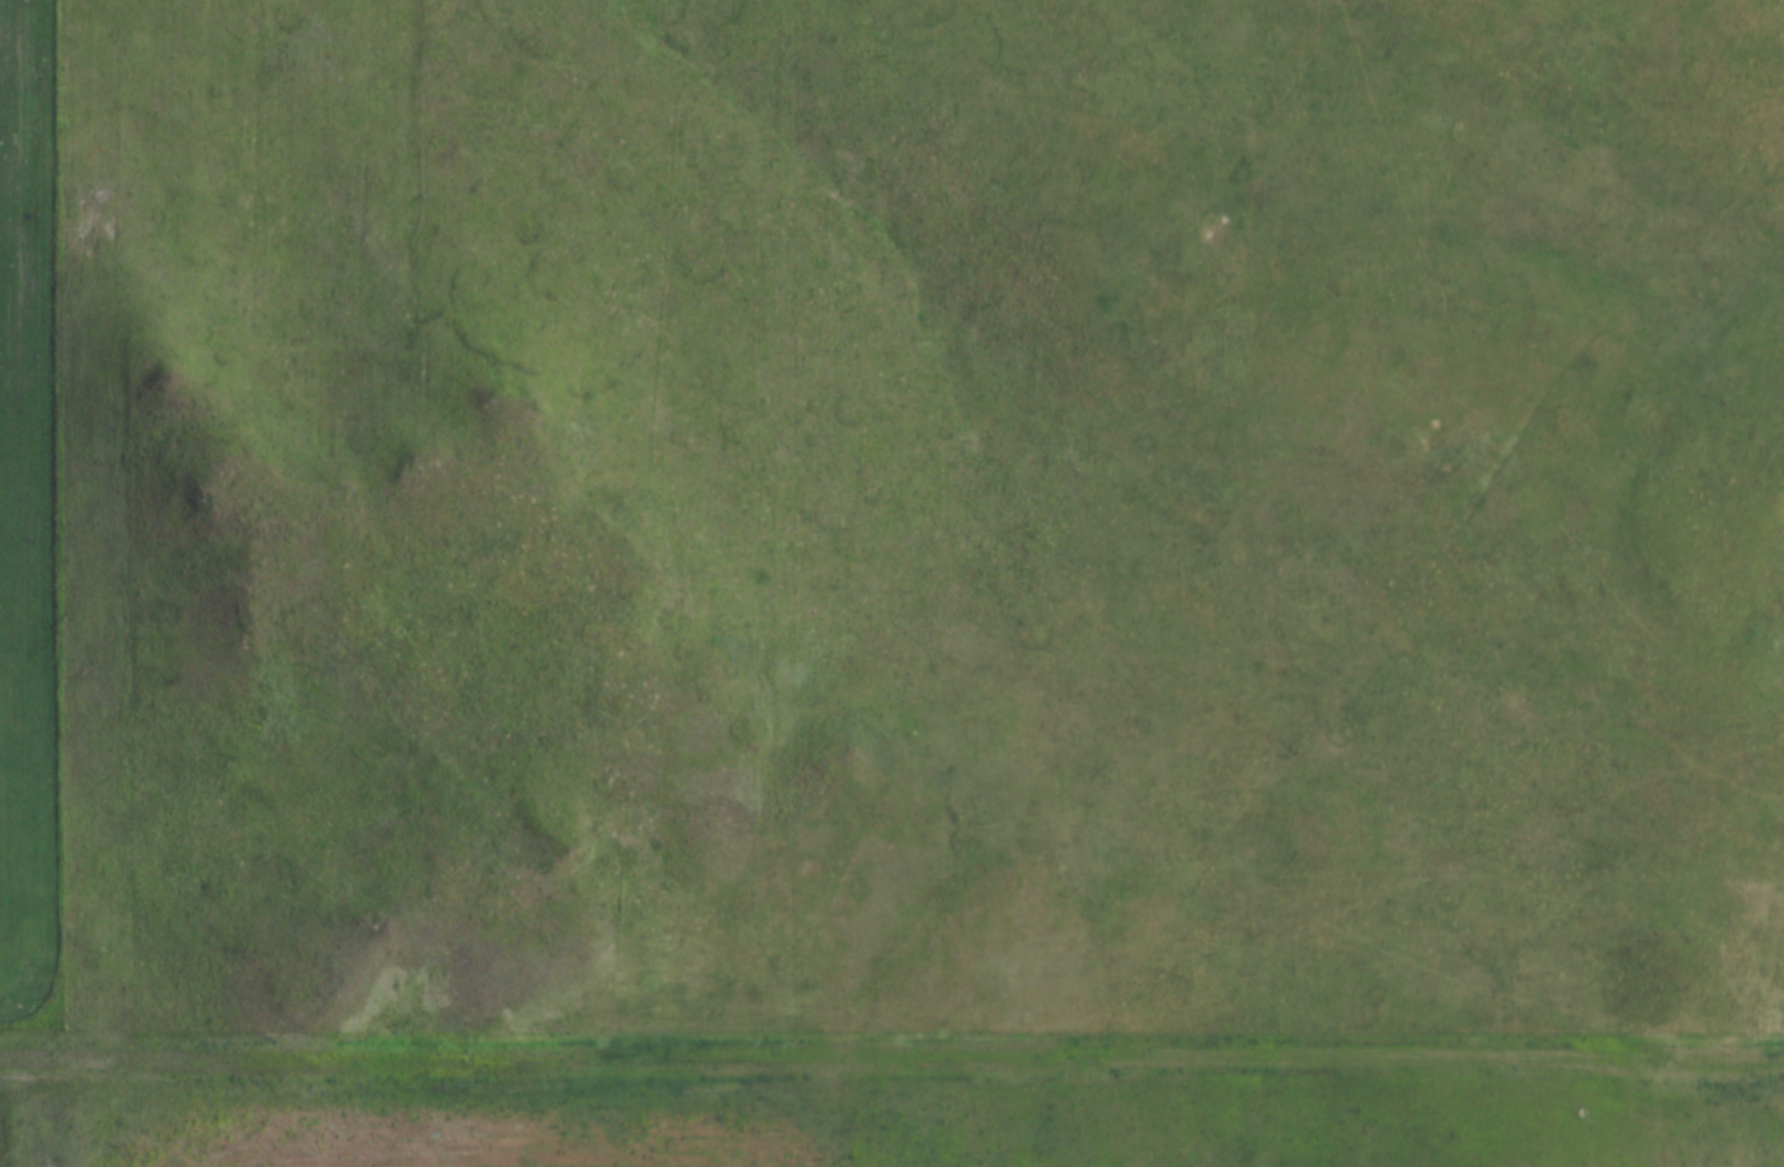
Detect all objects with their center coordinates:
road: (891, 1060)

